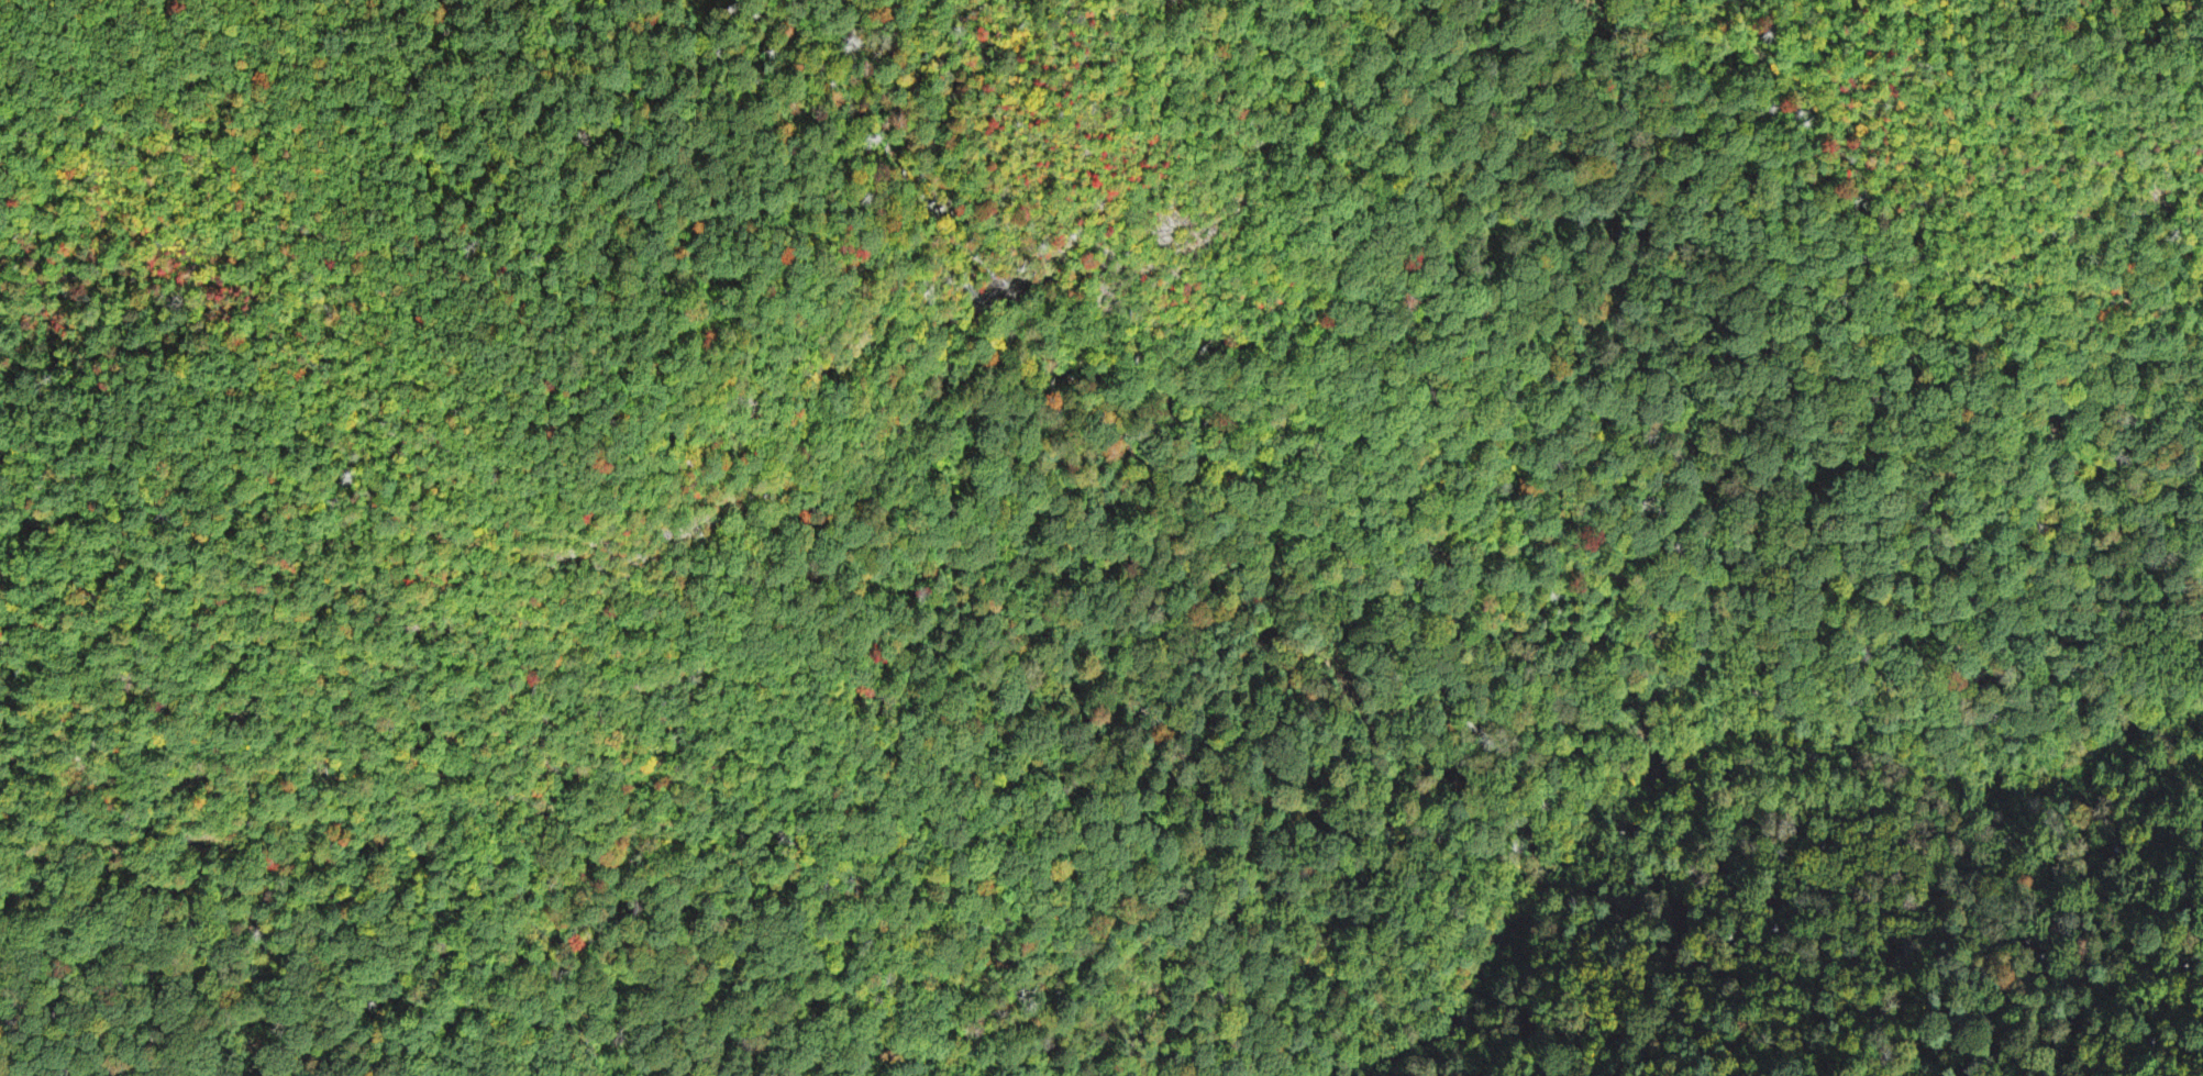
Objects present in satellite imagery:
road: (2077, 49)
road: (1676, 732)

